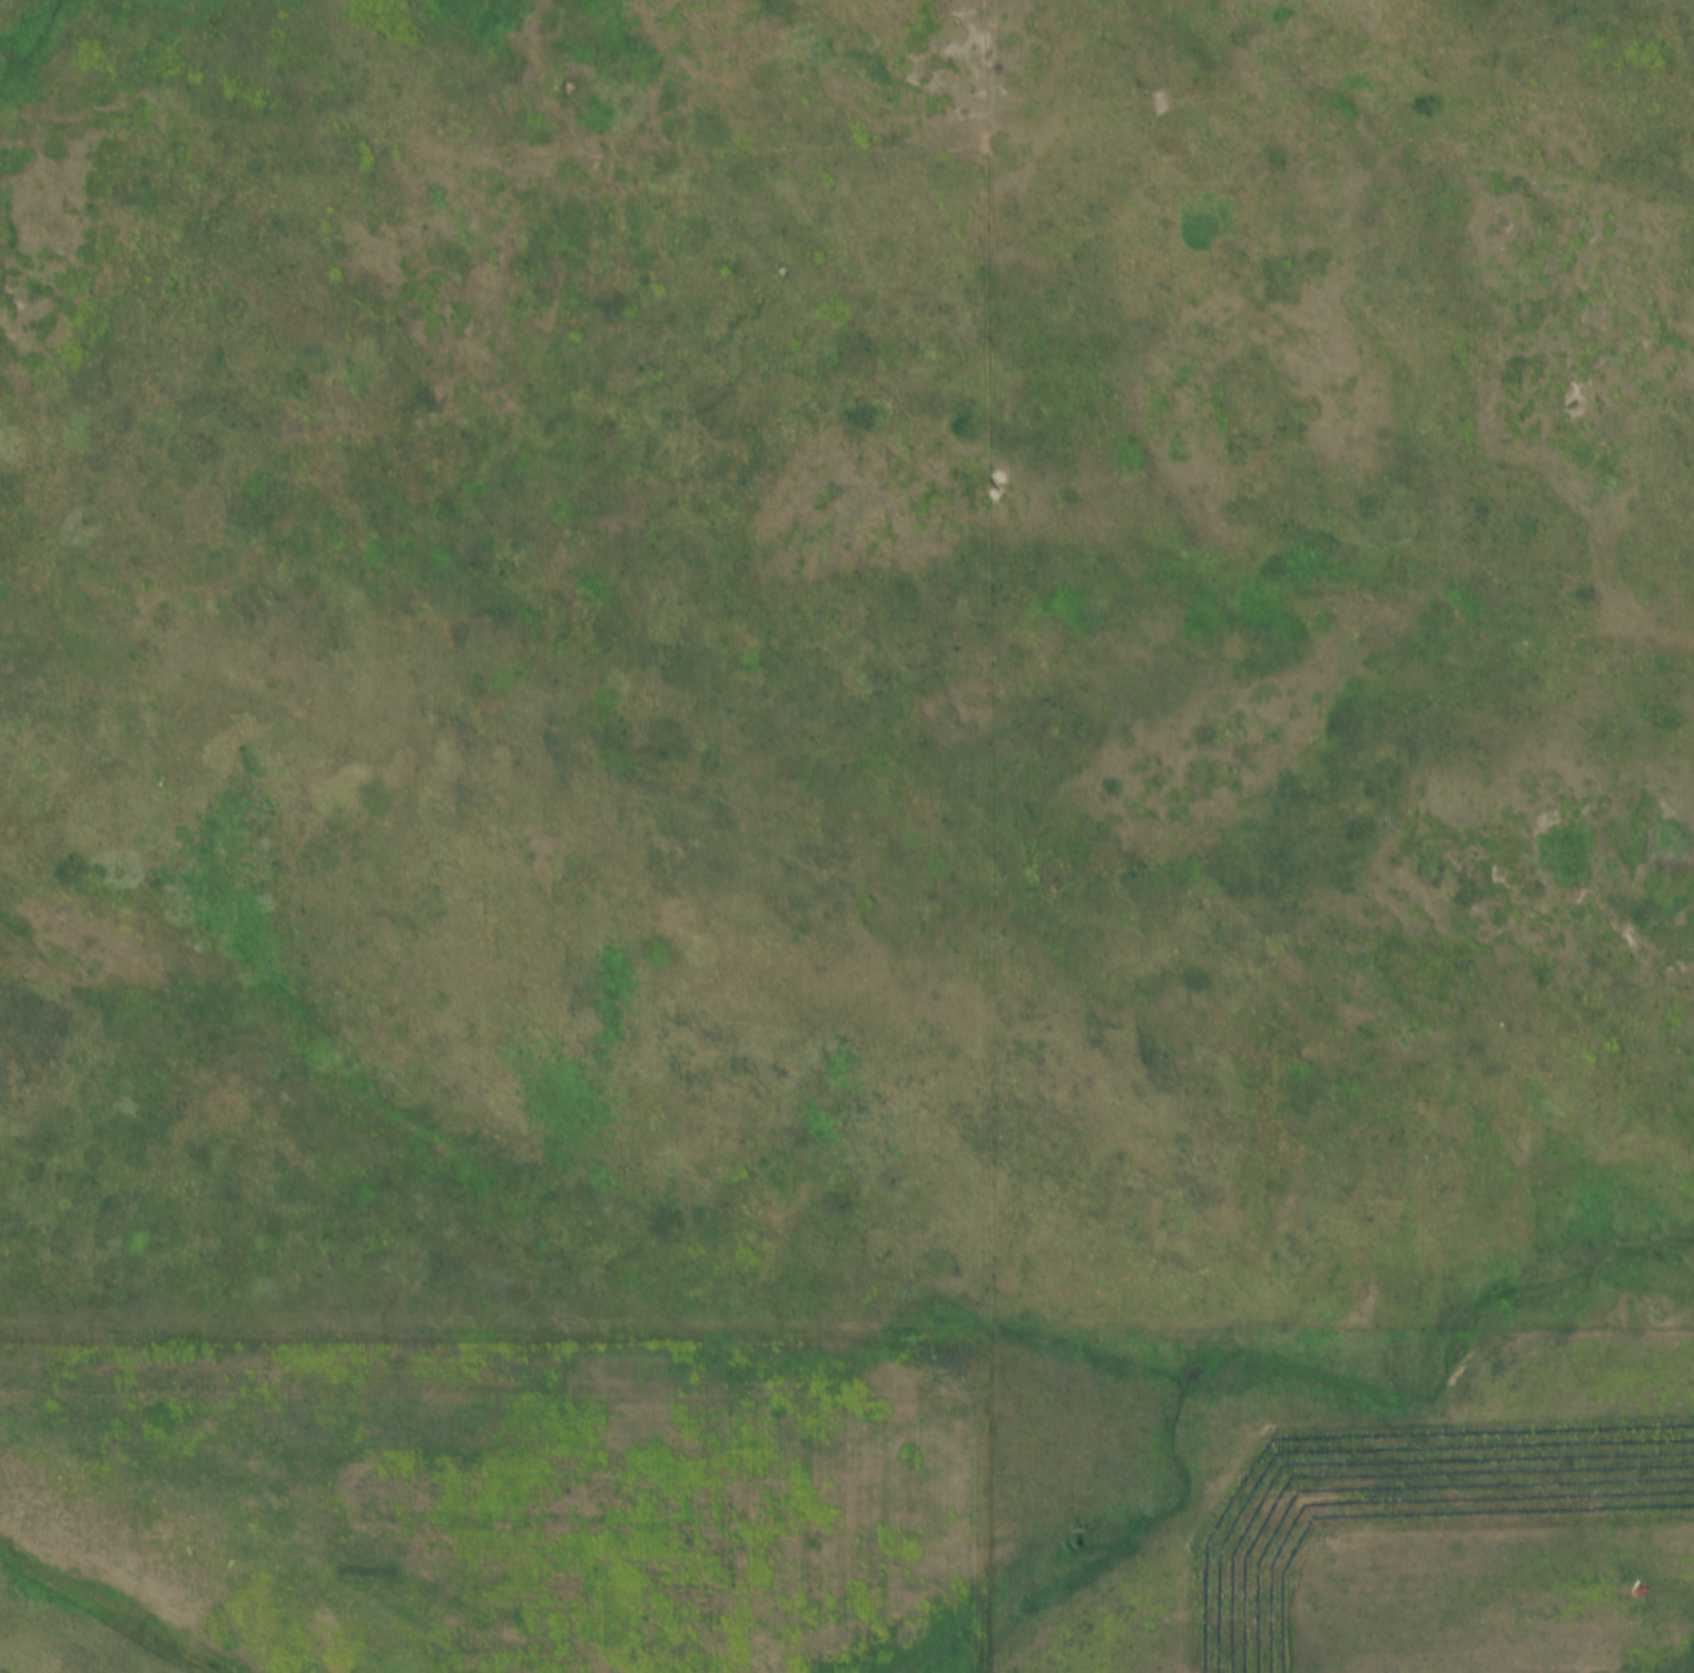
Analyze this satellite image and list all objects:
road: (1173, 1331)

